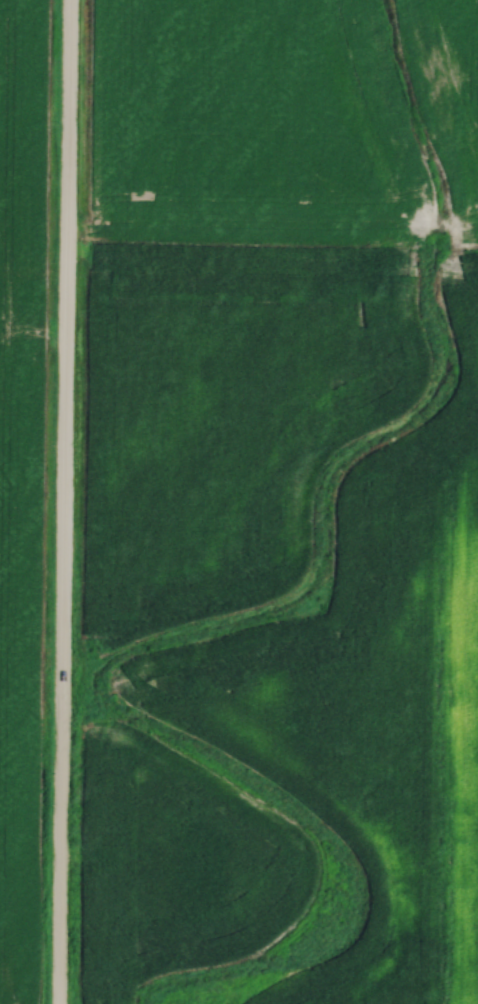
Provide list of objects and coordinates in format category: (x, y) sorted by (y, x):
road: (59, 502)

